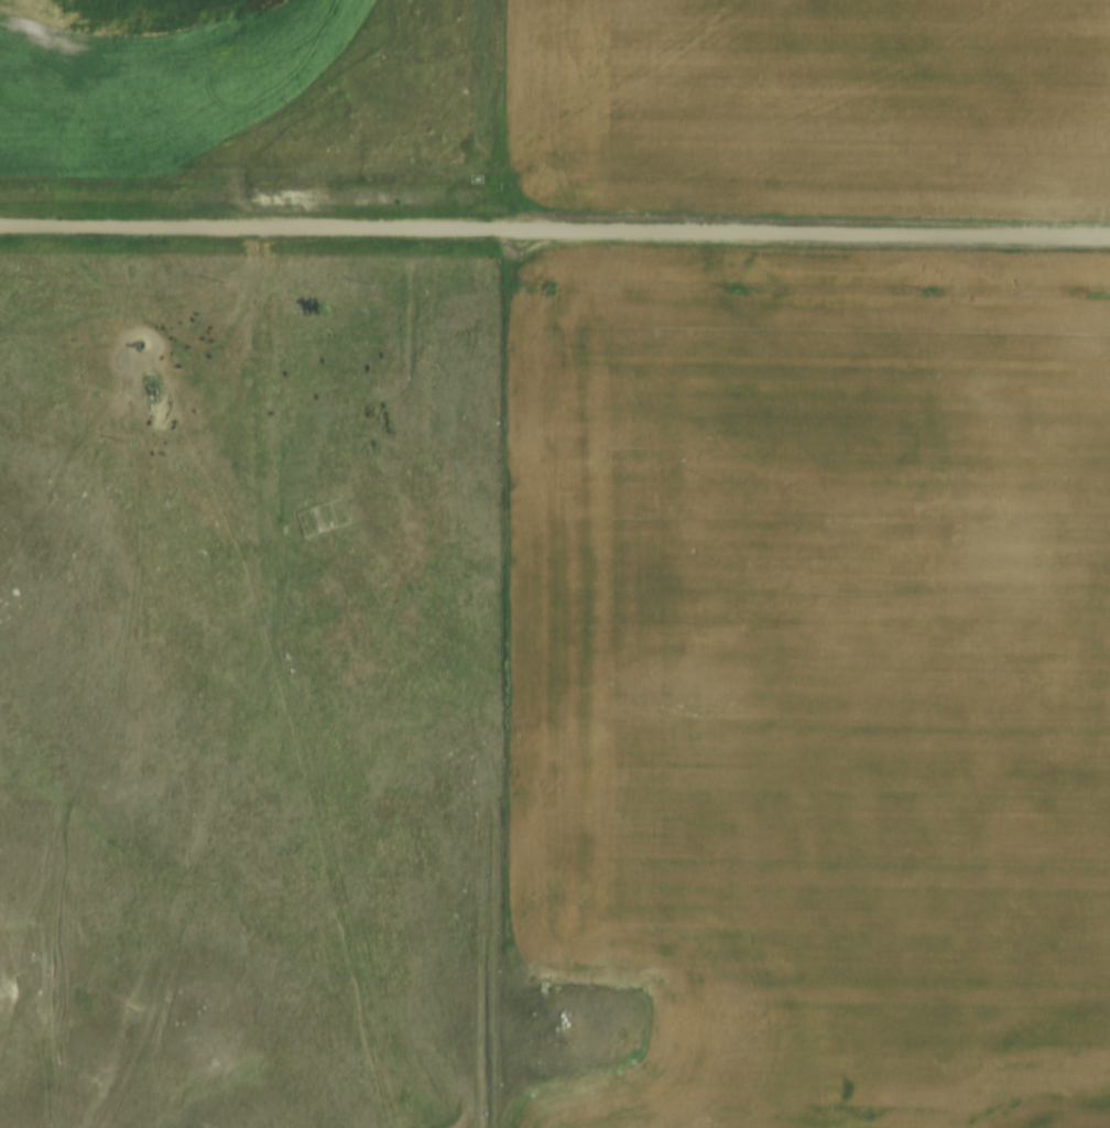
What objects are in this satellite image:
road: (554, 227)

